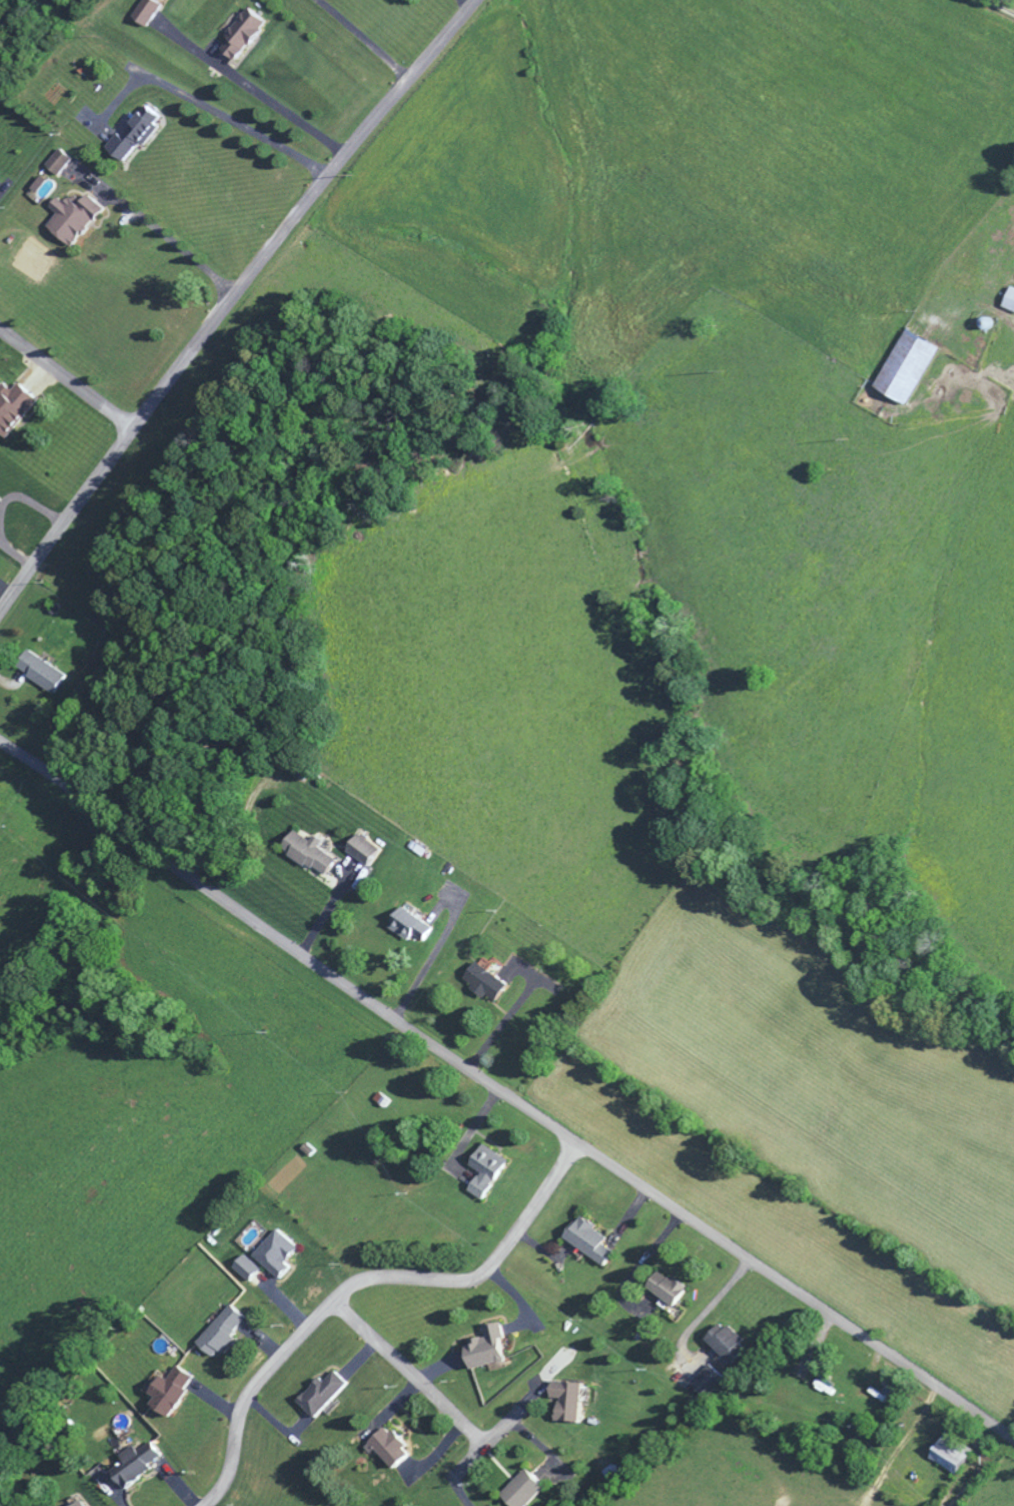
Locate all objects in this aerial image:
building: (146, 14)
building: (242, 36)
building: (133, 138)
building: (57, 164)
building: (40, 191)
building: (72, 220)
road: (230, 299)
building: (1009, 304)
building: (905, 370)
road: (66, 379)
building: (13, 410)
building: (40, 675)
building: (362, 854)
building: (307, 856)
building: (409, 930)
building: (486, 985)
road: (504, 1094)
building: (485, 1173)
building: (588, 1244)
building: (276, 1256)
building: (246, 1271)
road: (363, 1280)
building: (667, 1291)
building: (221, 1334)
building: (726, 1346)
building: (488, 1350)
road: (410, 1372)
building: (705, 1384)
building: (824, 1388)
building: (169, 1393)
building: (322, 1397)
building: (567, 1403)
building: (388, 1450)
building: (952, 1457)
building: (134, 1467)
building: (522, 1491)
building: (81, 1505)

